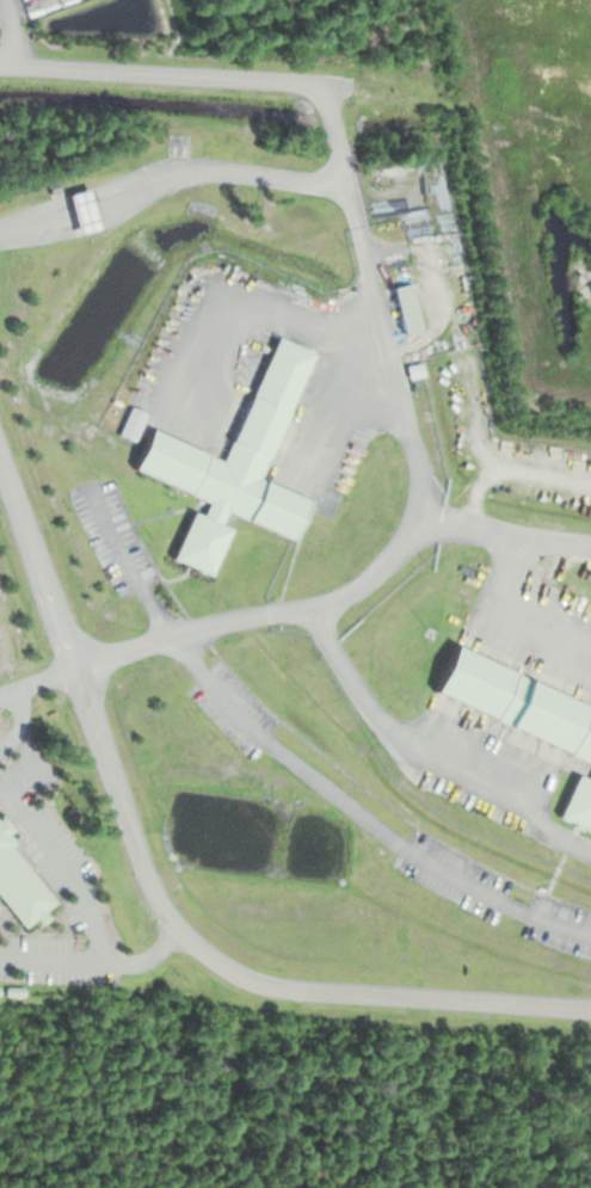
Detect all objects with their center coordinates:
road: (339, 147)
building: (81, 213)
road: (441, 284)
building: (405, 309)
road: (493, 460)
building: (234, 467)
road: (474, 491)
road: (511, 536)
road: (125, 565)
road: (265, 614)
road: (8, 693)
road: (17, 693)
building: (516, 701)
building: (577, 801)
road: (361, 814)
road: (66, 866)
building: (19, 882)
road: (159, 898)
road: (94, 961)

